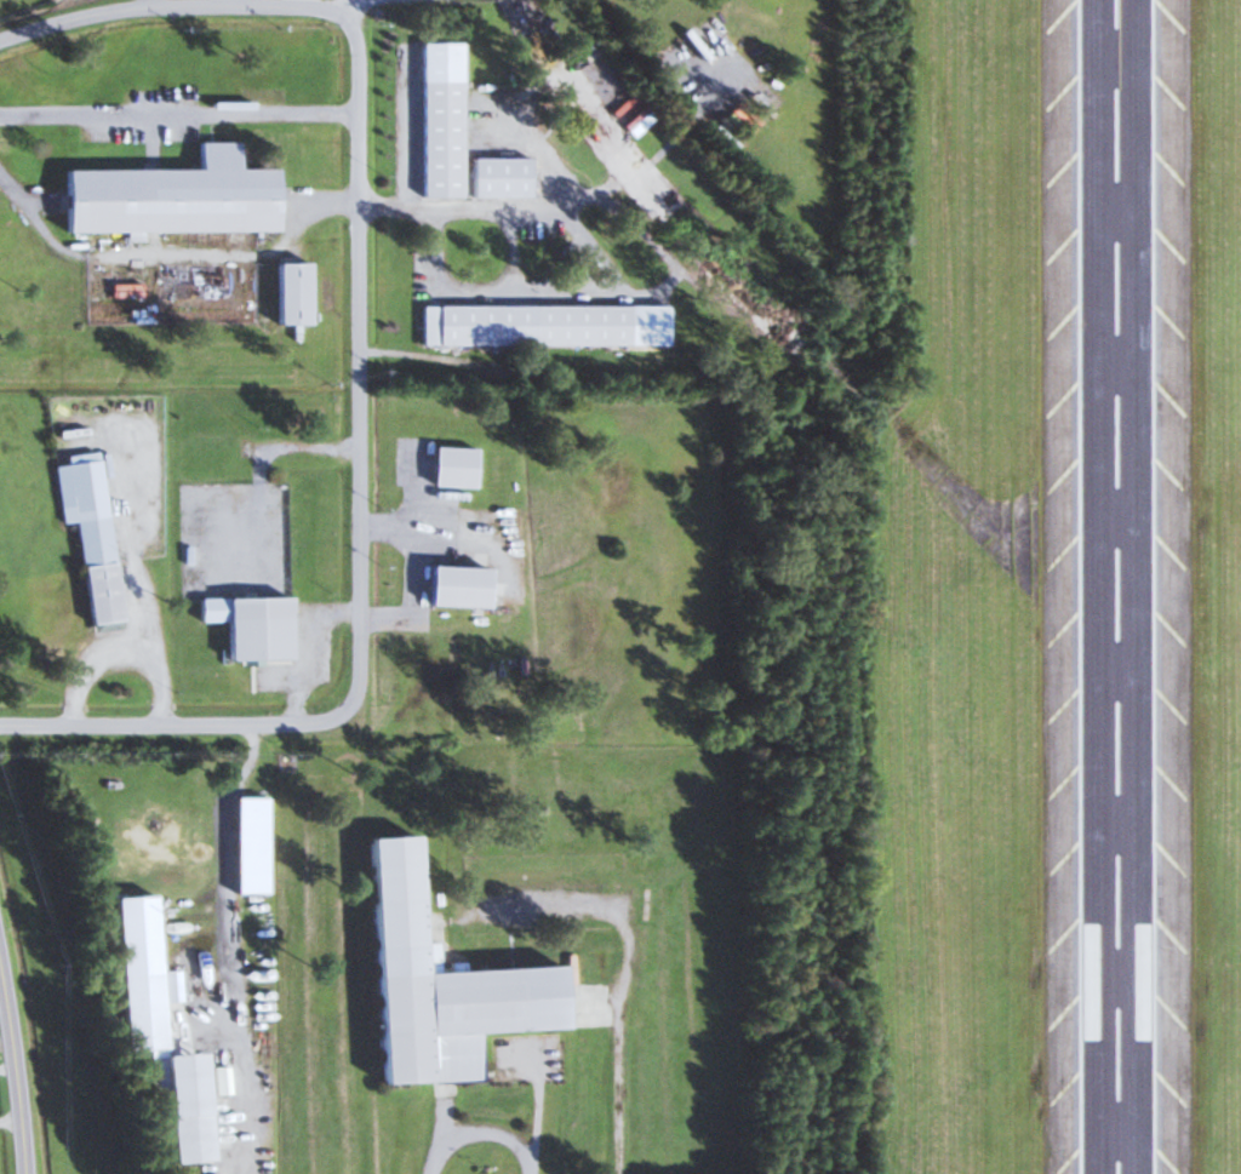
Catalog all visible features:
road: (348, 5)
road: (171, 10)
road: (178, 114)
road: (411, 131)
building: (435, 139)
building: (497, 179)
building: (170, 201)
road: (513, 250)
road: (173, 257)
road: (599, 259)
building: (287, 297)
building: (521, 325)
road: (263, 463)
building: (450, 465)
road: (359, 536)
building: (90, 543)
airport: (986, 585)
building: (451, 586)
airport runway: (1115, 586)
building: (253, 630)
road: (224, 945)
building: (1090, 981)
building: (1143, 981)
building: (433, 983)
road: (15, 1079)
road: (617, 1084)
building: (179, 1104)
road: (480, 1130)

